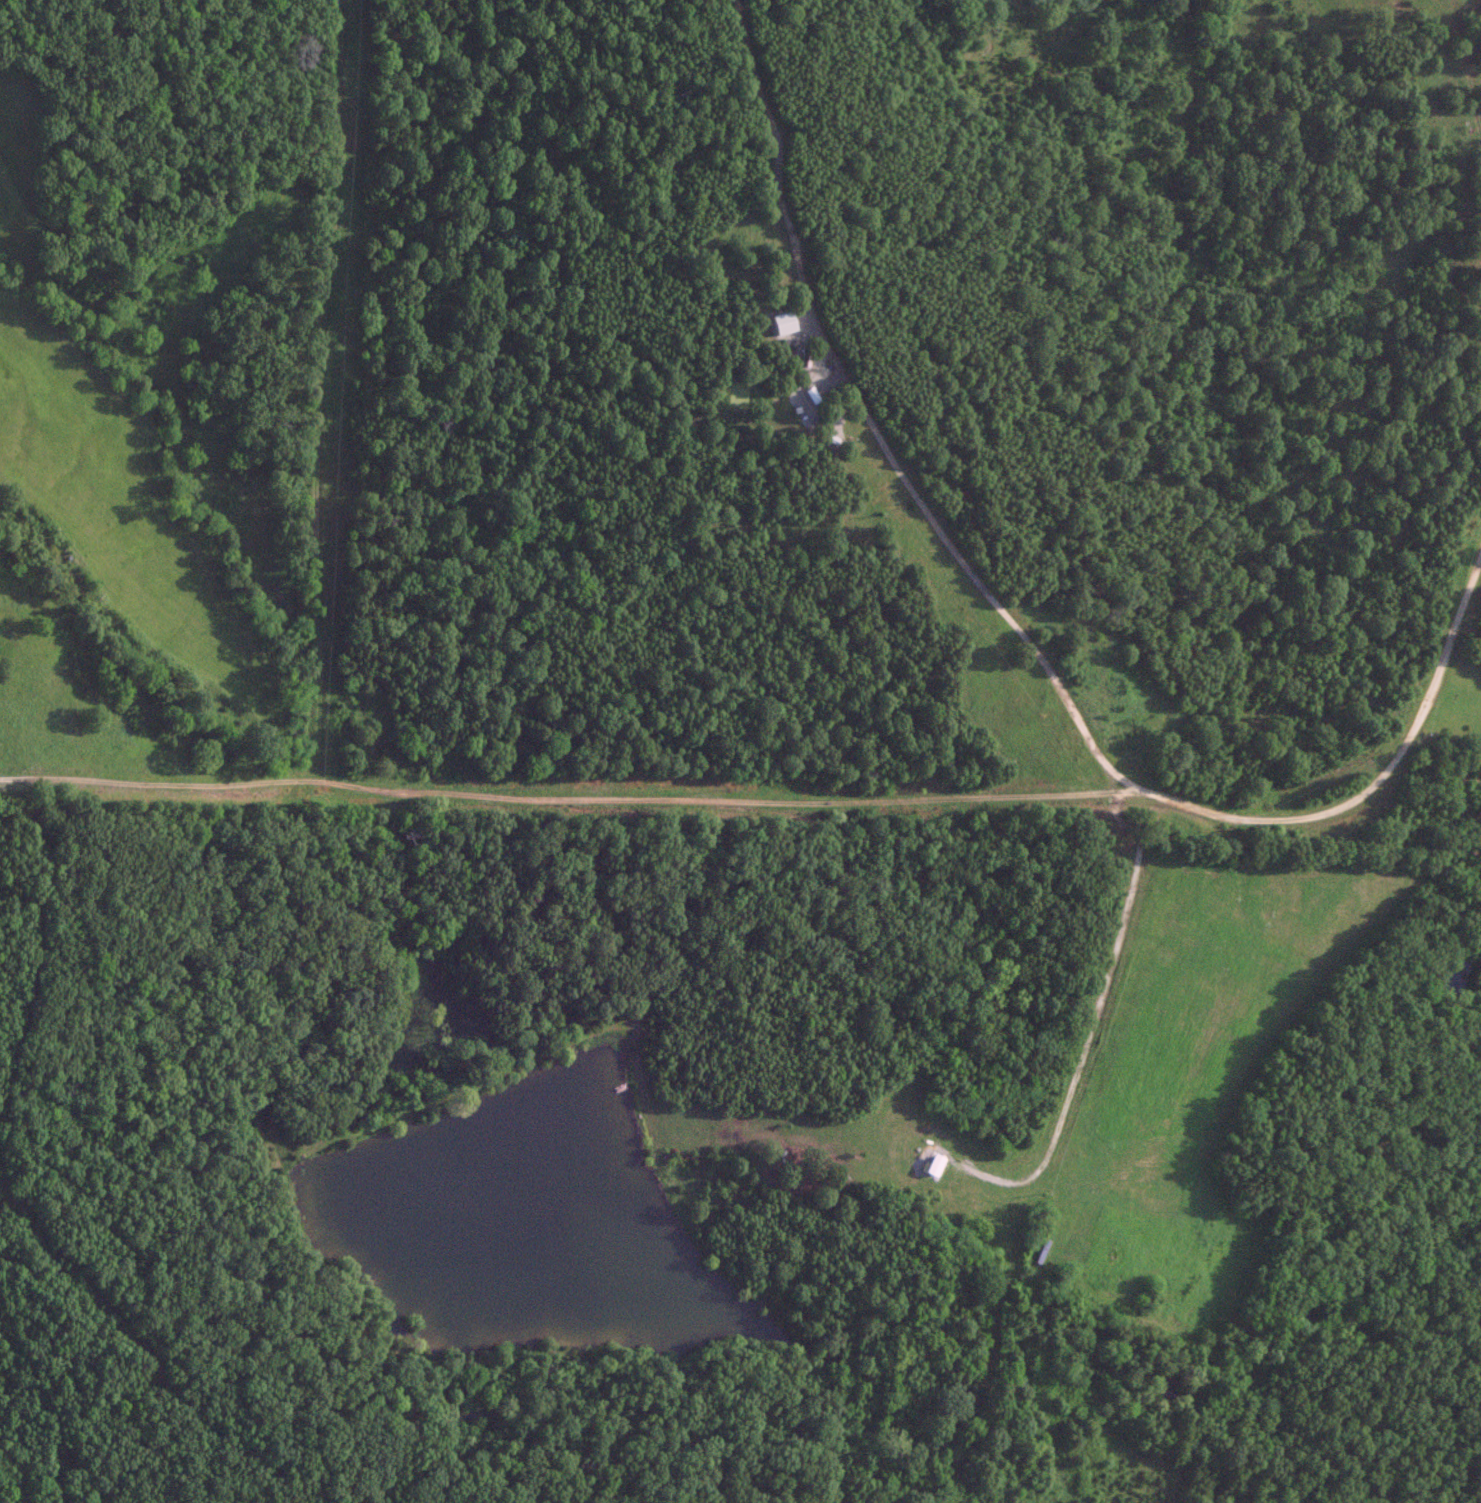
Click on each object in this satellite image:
road: (1003, 1315)

